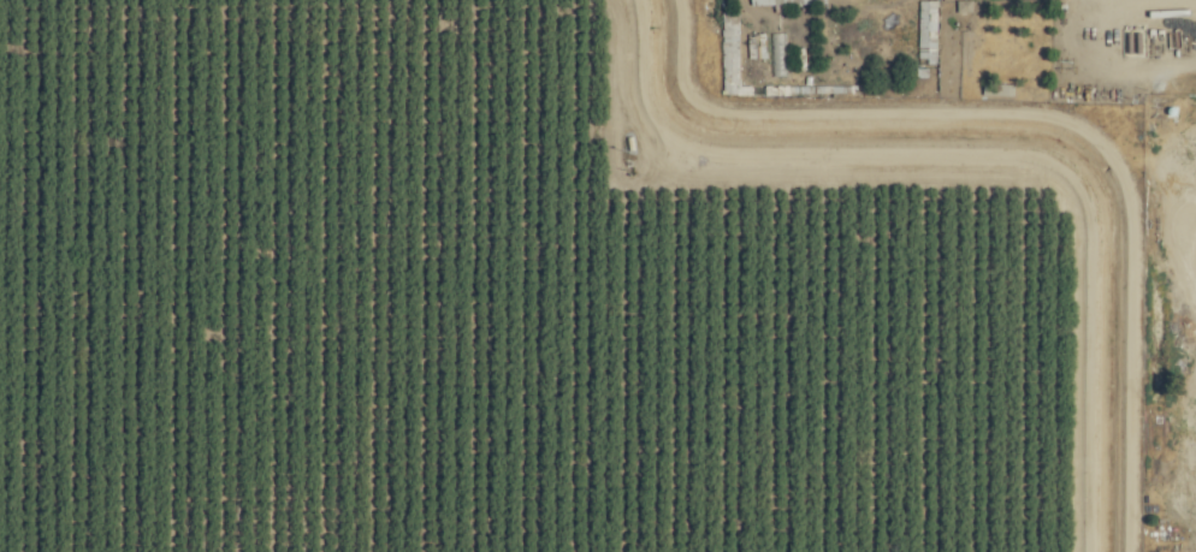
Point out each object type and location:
building: (783, 2)
building: (924, 32)

